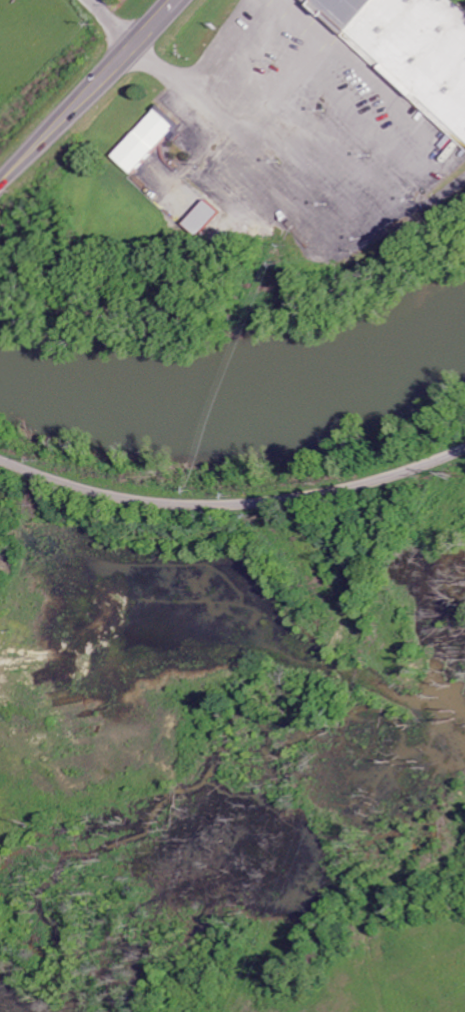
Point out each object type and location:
road: (93, 1)
road: (113, 24)
building: (411, 46)
road: (92, 93)
building: (151, 141)
road: (2, 188)
building: (209, 218)
river: (237, 374)
road: (233, 506)

